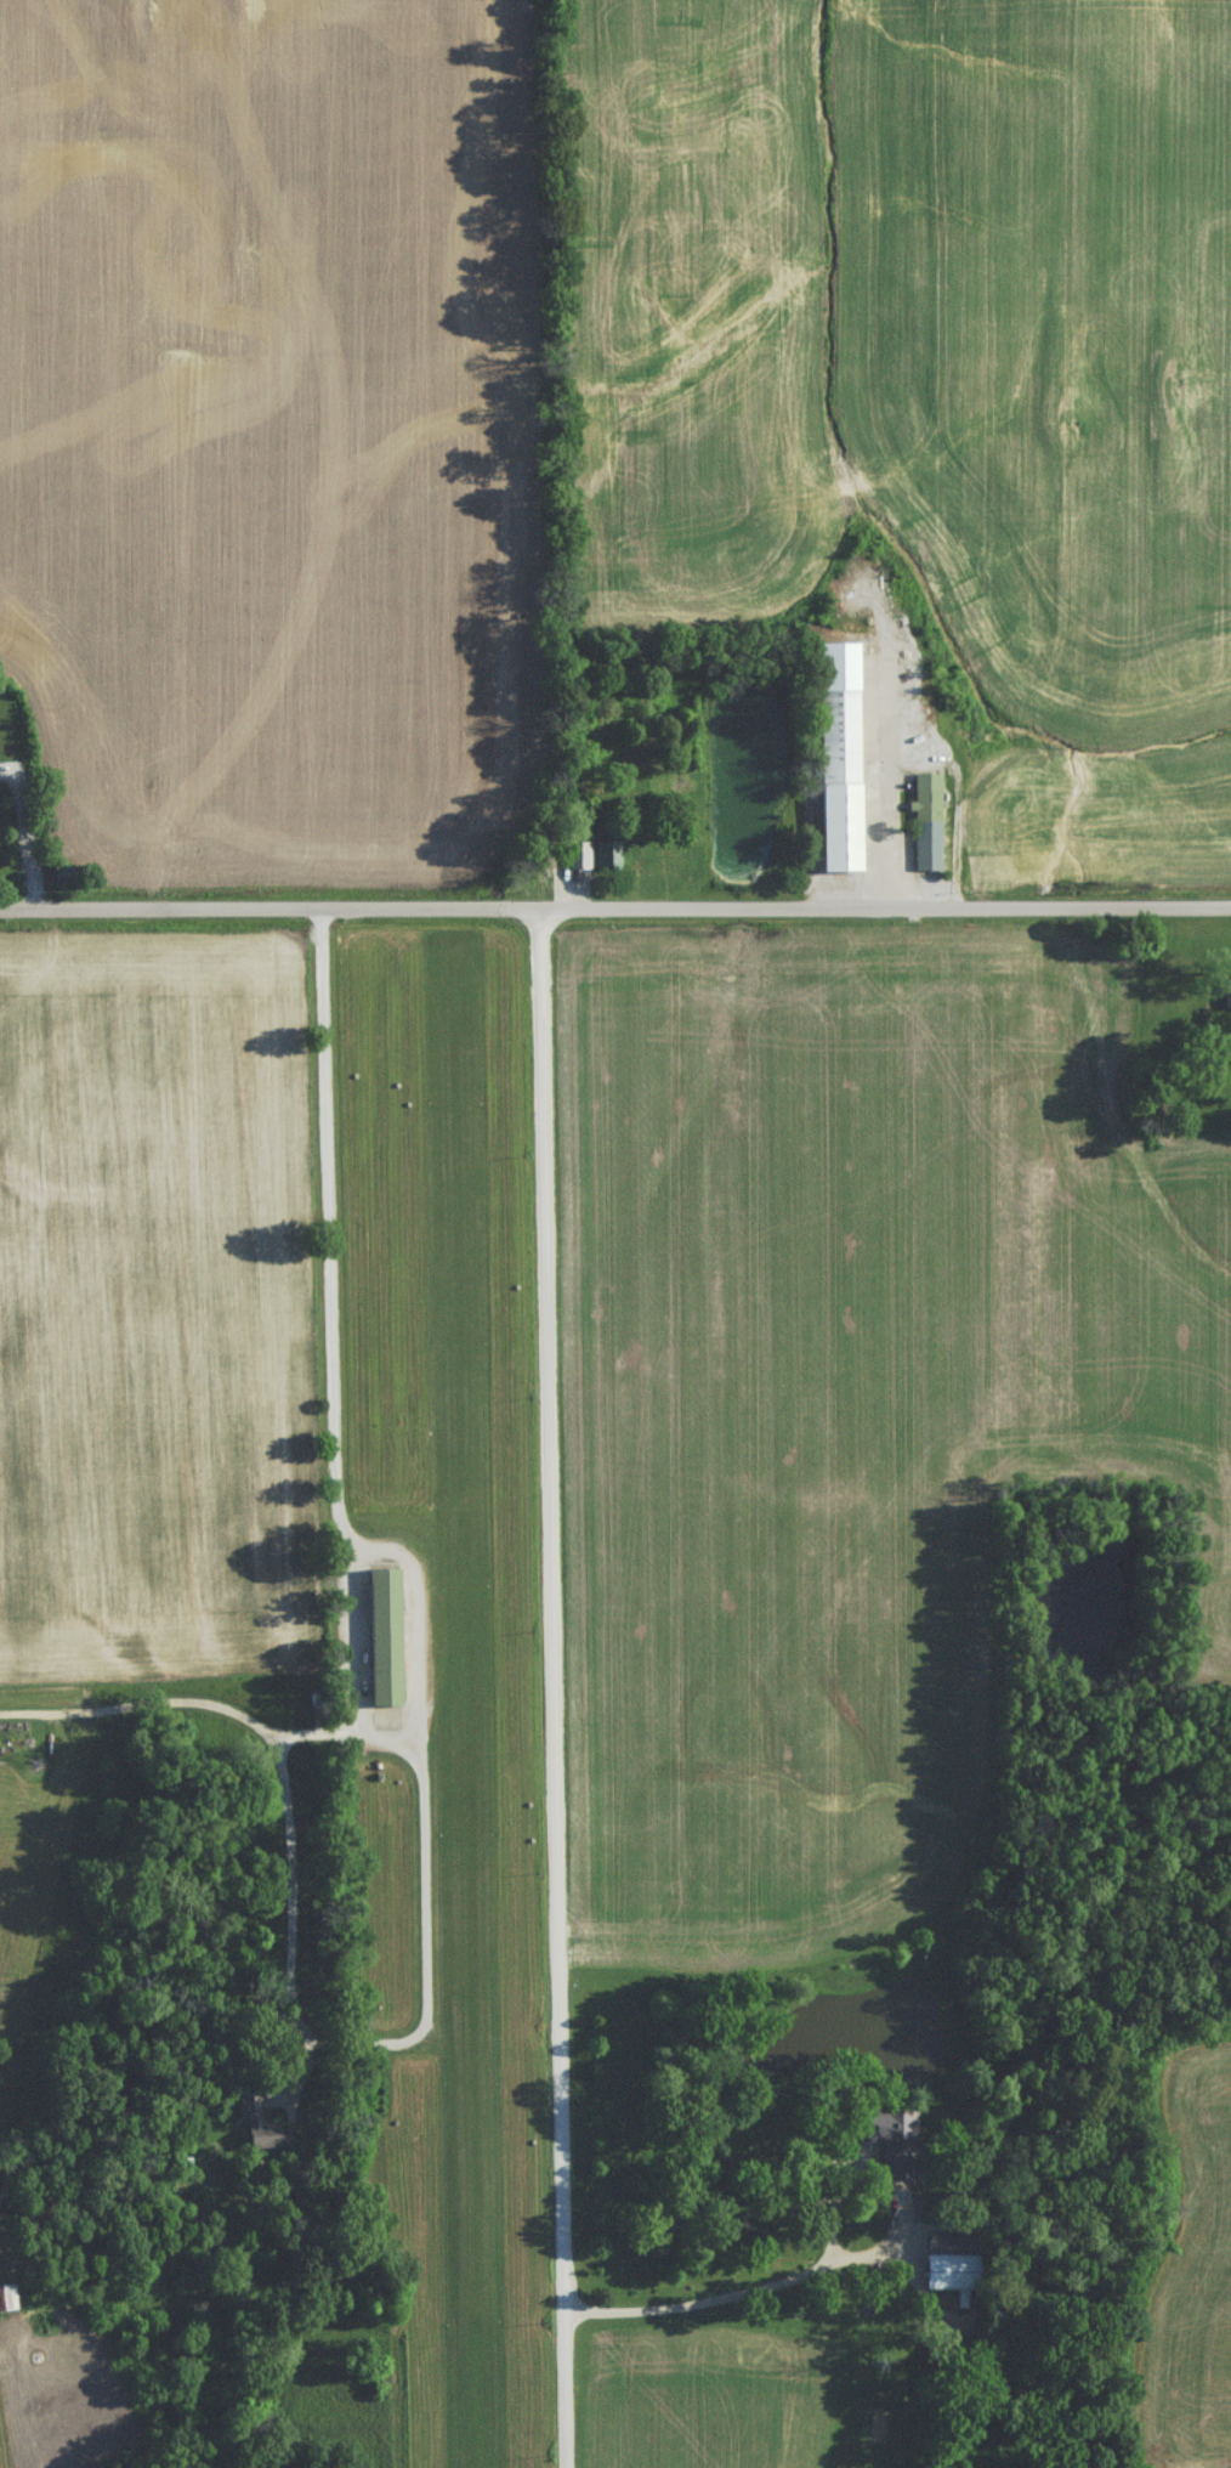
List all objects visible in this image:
road: (923, 759)
building: (834, 764)
building: (924, 828)
road: (25, 832)
building: (603, 860)
building: (575, 861)
road: (615, 901)
building: (379, 1642)
road: (554, 1685)
road: (368, 1727)
building: (880, 2133)
building: (943, 2277)
road: (745, 2302)
building: (8, 2304)

